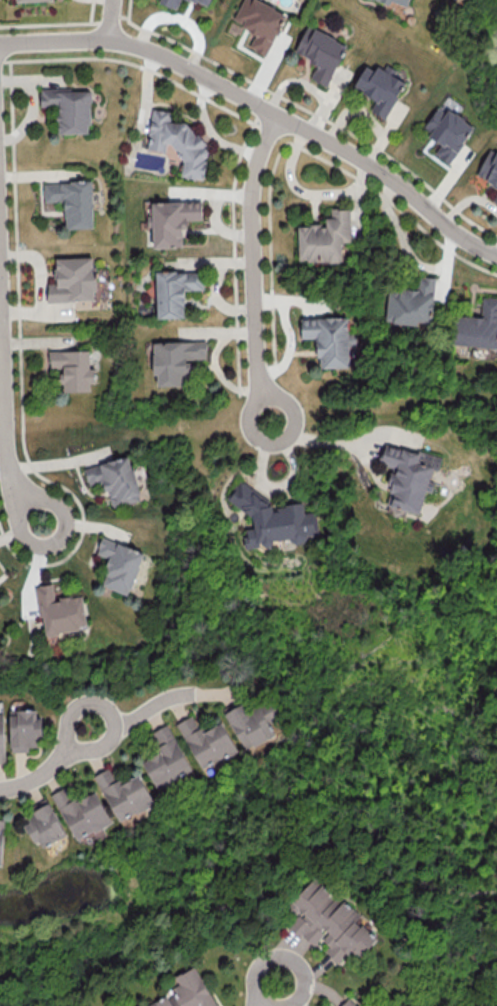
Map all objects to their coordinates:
building: (26, 0)
building: (202, 2)
building: (397, 2)
building: (170, 3)
road: (121, 21)
building: (259, 22)
building: (320, 53)
building: (379, 87)
building: (69, 108)
road: (262, 109)
building: (447, 132)
building: (177, 142)
building: (489, 168)
building: (495, 198)
building: (72, 201)
building: (171, 221)
building: (324, 237)
road: (253, 266)
building: (73, 280)
building: (175, 290)
building: (411, 303)
building: (478, 326)
building: (328, 339)
building: (175, 360)
building: (73, 369)
road: (7, 417)
road: (332, 440)
building: (115, 480)
building: (272, 518)
building: (119, 564)
building: (60, 611)
road: (104, 708)
road: (151, 708)
building: (255, 724)
building: (24, 729)
building: (206, 741)
building: (166, 759)
road: (37, 775)
building: (124, 794)
building: (81, 812)
building: (44, 823)
building: (1, 840)
building: (329, 921)
building: (186, 992)
road: (267, 993)
building: (348, 1003)
building: (369, 1004)

